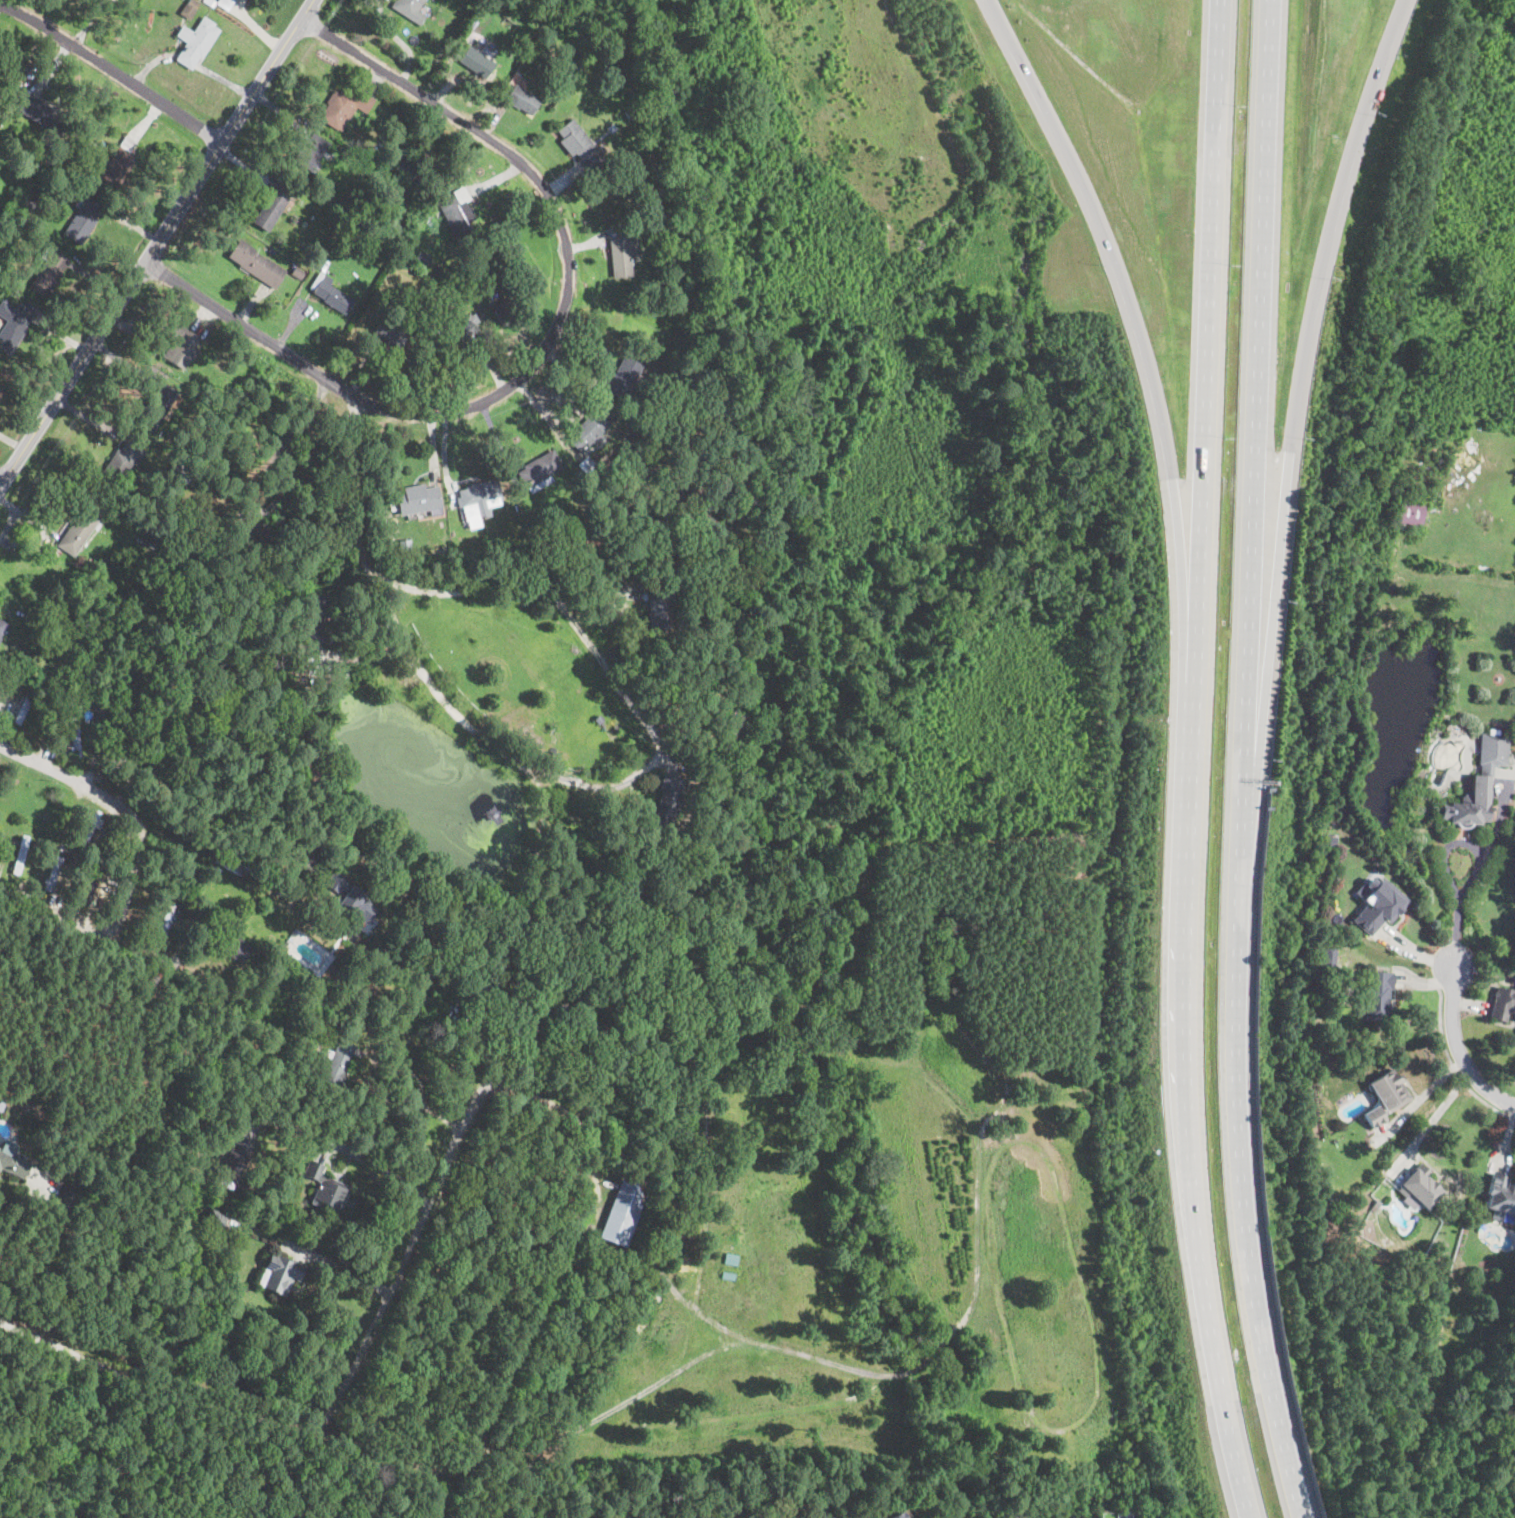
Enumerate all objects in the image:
building: (210, 2)
building: (225, 3)
building: (189, 9)
building: (409, 10)
building: (470, 34)
building: (197, 42)
building: (476, 62)
road: (110, 69)
building: (553, 69)
building: (522, 99)
building: (344, 106)
building: (630, 112)
building: (41, 114)
building: (394, 118)
building: (612, 128)
building: (581, 145)
building: (81, 152)
building: (309, 153)
building: (467, 164)
building: (119, 166)
building: (13, 167)
building: (415, 170)
building: (280, 194)
building: (29, 201)
building: (381, 201)
building: (458, 211)
building: (314, 212)
building: (262, 217)
building: (83, 220)
building: (656, 223)
building: (352, 235)
road: (157, 239)
building: (375, 248)
building: (418, 254)
building: (620, 255)
building: (257, 263)
building: (672, 264)
building: (49, 271)
building: (435, 272)
building: (297, 273)
building: (330, 293)
road: (1124, 296)
building: (506, 312)
building: (13, 324)
building: (391, 331)
building: (460, 334)
road: (545, 345)
building: (180, 347)
building: (624, 378)
road: (1300, 381)
building: (159, 405)
road: (294, 429)
building: (589, 431)
building: (211, 447)
building: (119, 463)
building: (586, 465)
building: (539, 471)
building: (186, 473)
road: (353, 484)
building: (418, 500)
building: (479, 500)
building: (1410, 513)
building: (639, 530)
building: (77, 531)
building: (248, 531)
building: (543, 532)
building: (163, 536)
building: (405, 548)
building: (520, 550)
building: (658, 609)
building: (314, 615)
building: (3, 627)
building: (18, 666)
building: (9, 673)
building: (24, 705)
building: (734, 731)
building: (74, 738)
road: (1192, 761)
road: (1242, 762)
road: (80, 778)
building: (144, 778)
building: (155, 778)
road: (632, 780)
building: (1480, 782)
building: (665, 806)
building: (89, 828)
building: (1332, 839)
building: (20, 855)
building: (234, 862)
building: (55, 873)
building: (89, 887)
building: (349, 901)
building: (1378, 906)
building: (126, 909)
road: (1457, 909)
road: (466, 911)
building: (162, 923)
road: (83, 926)
building: (232, 942)
building: (1375, 995)
building: (1502, 1002)
road: (1458, 1043)
building: (337, 1062)
road: (1455, 1068)
road: (416, 1077)
building: (1387, 1090)
building: (2, 1101)
road: (1438, 1109)
road: (571, 1114)
building: (1371, 1116)
building: (237, 1157)
building: (14, 1165)
road: (391, 1174)
building: (42, 1186)
building: (1421, 1187)
building: (325, 1189)
building: (1500, 1194)
building: (623, 1210)
road: (16, 1213)
road: (339, 1265)
building: (281, 1272)
road: (329, 1408)
building: (896, 1514)

